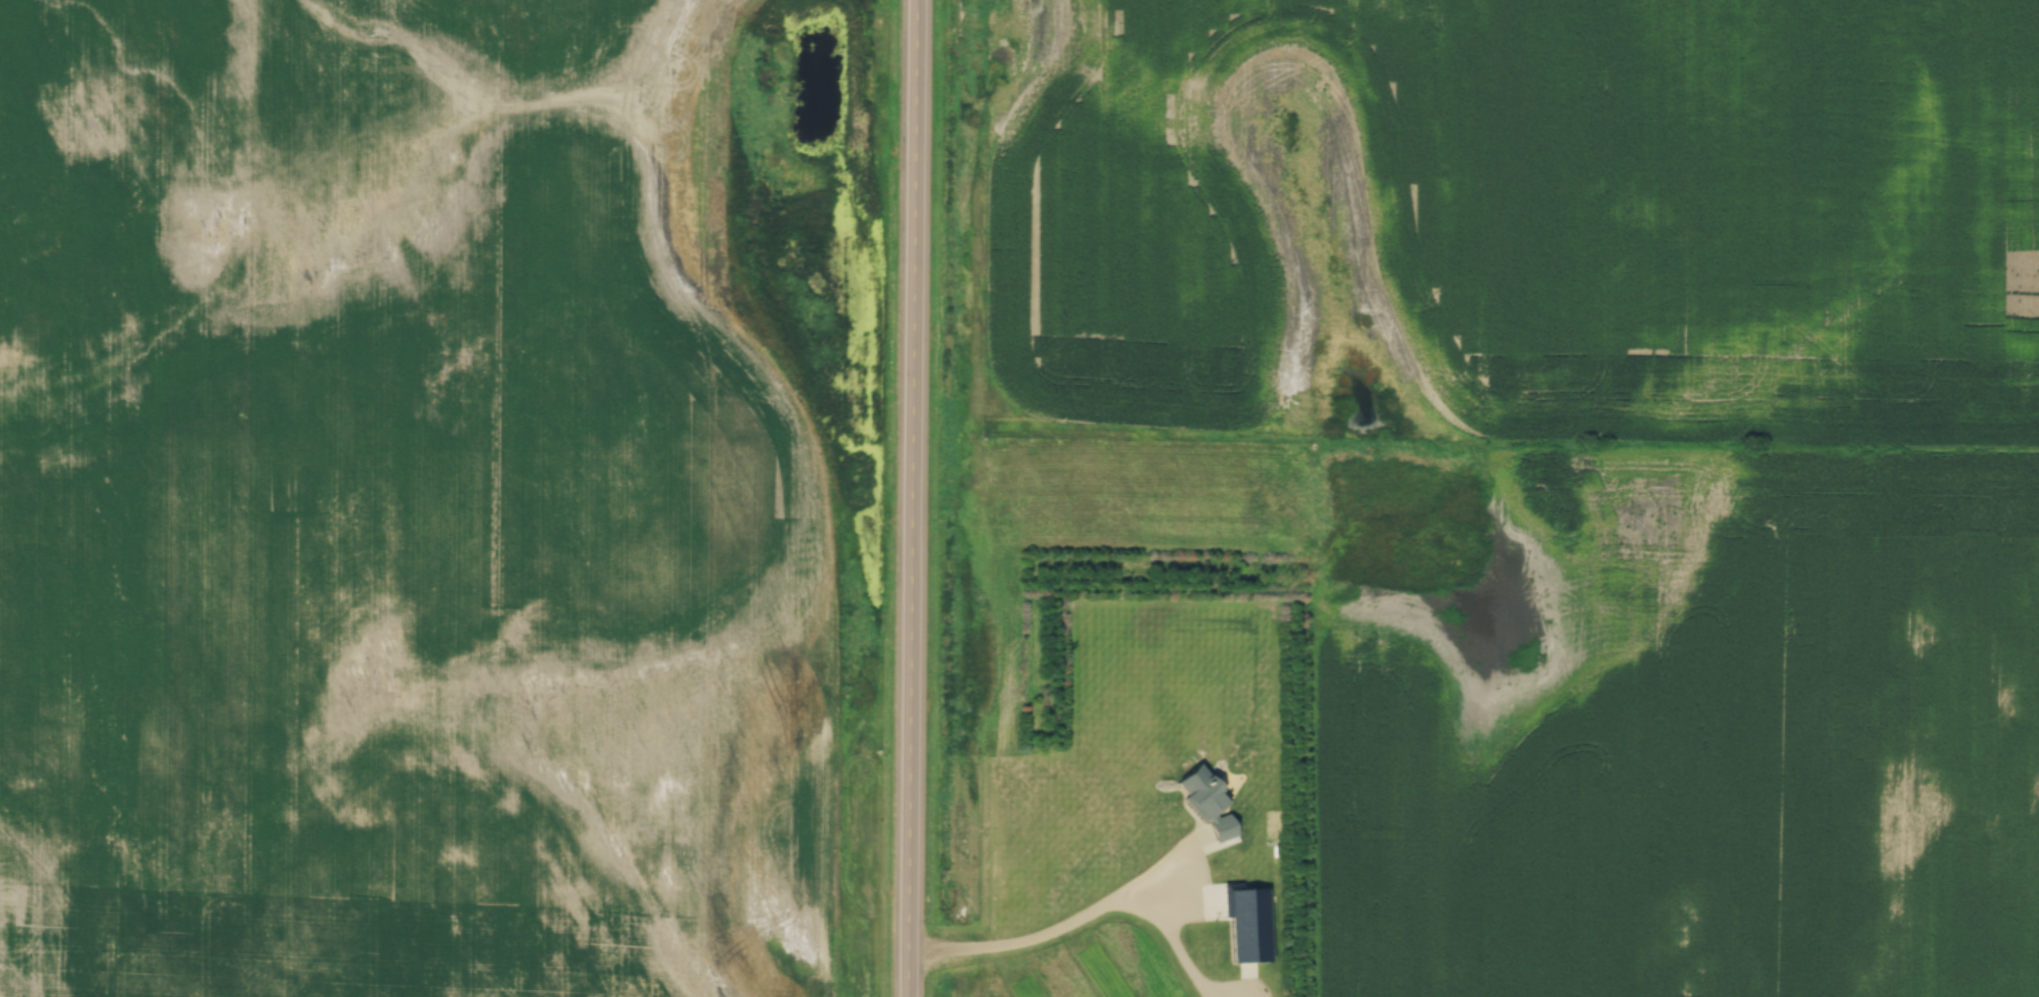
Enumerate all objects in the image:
road: (911, 498)
building: (1220, 825)
road: (1057, 931)

